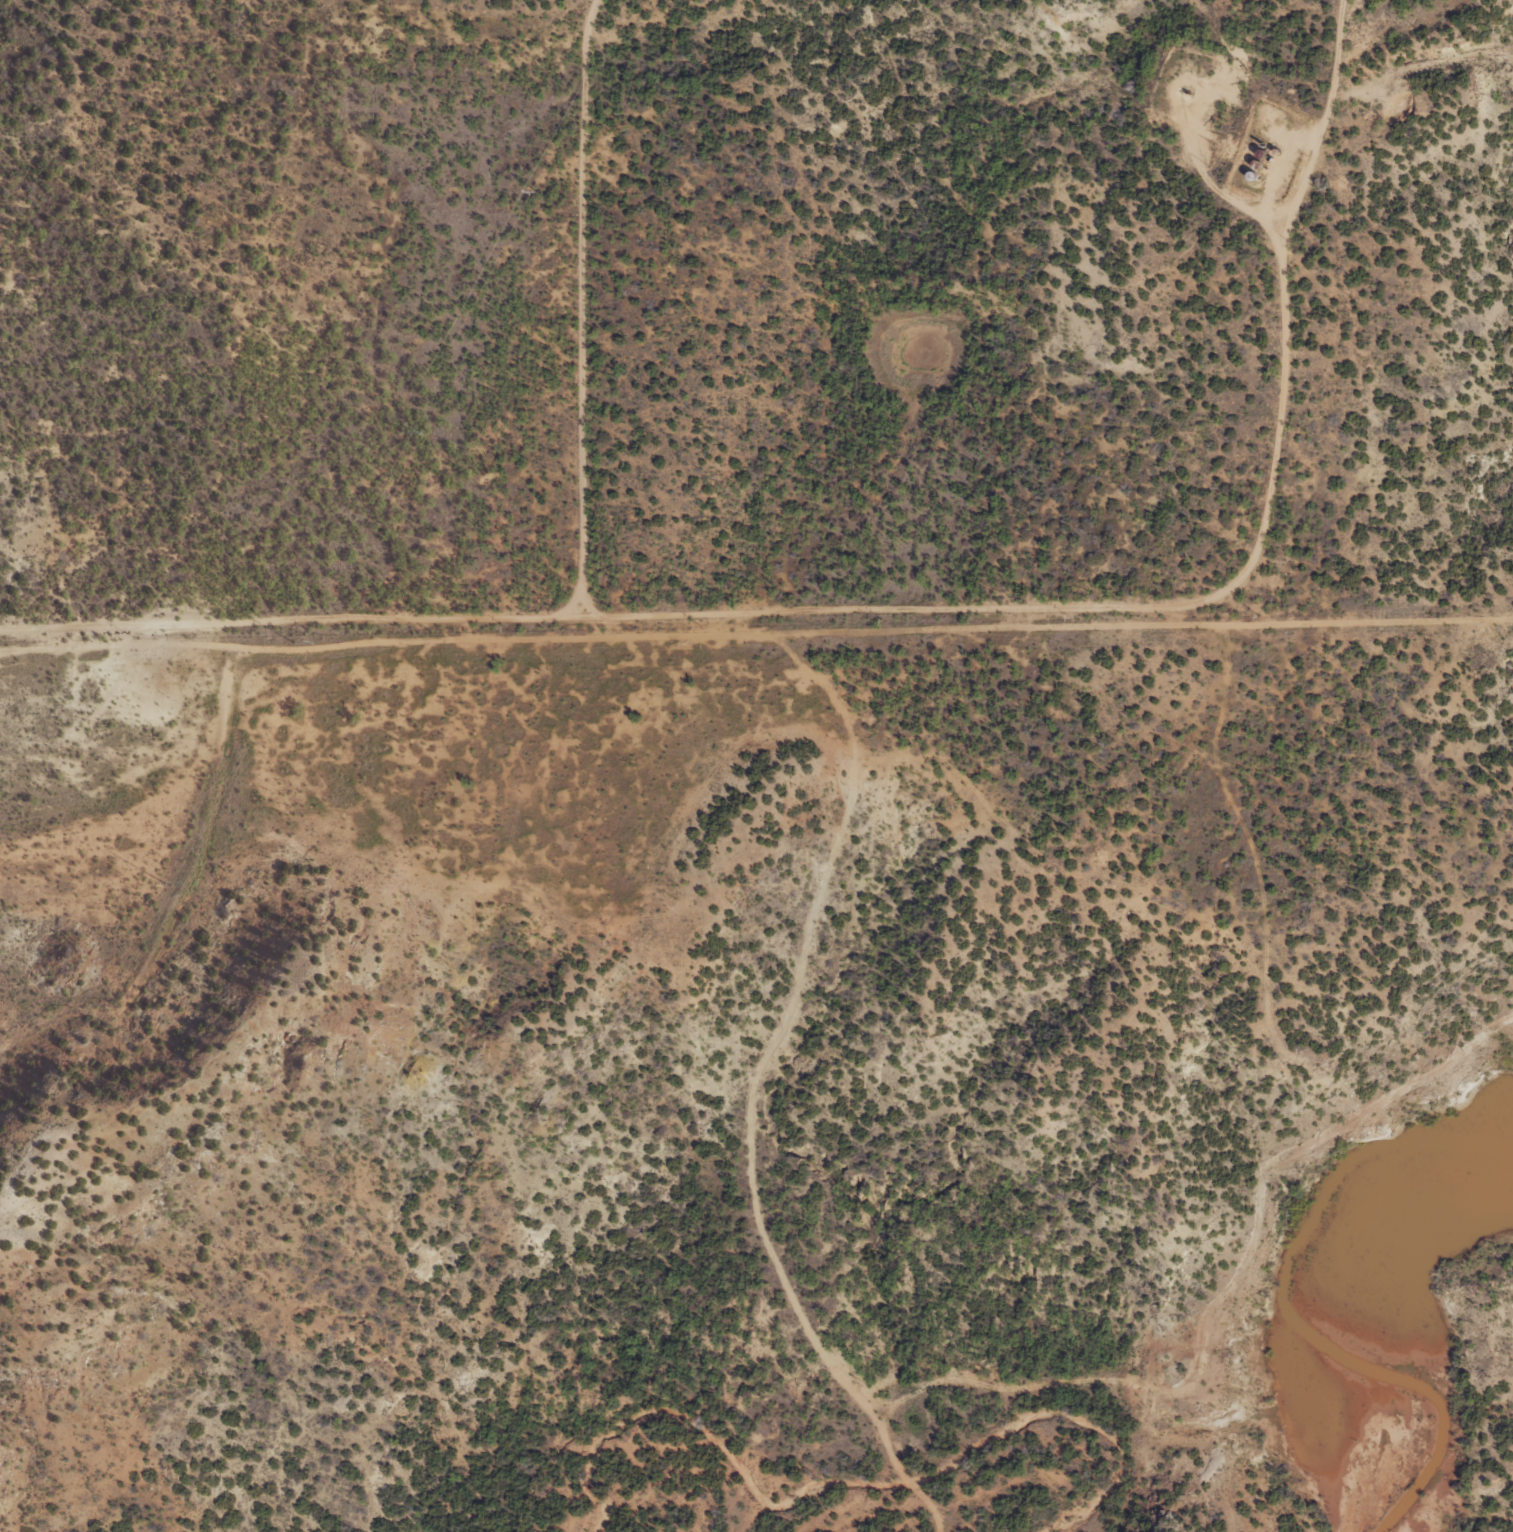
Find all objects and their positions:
road: (906, 660)

